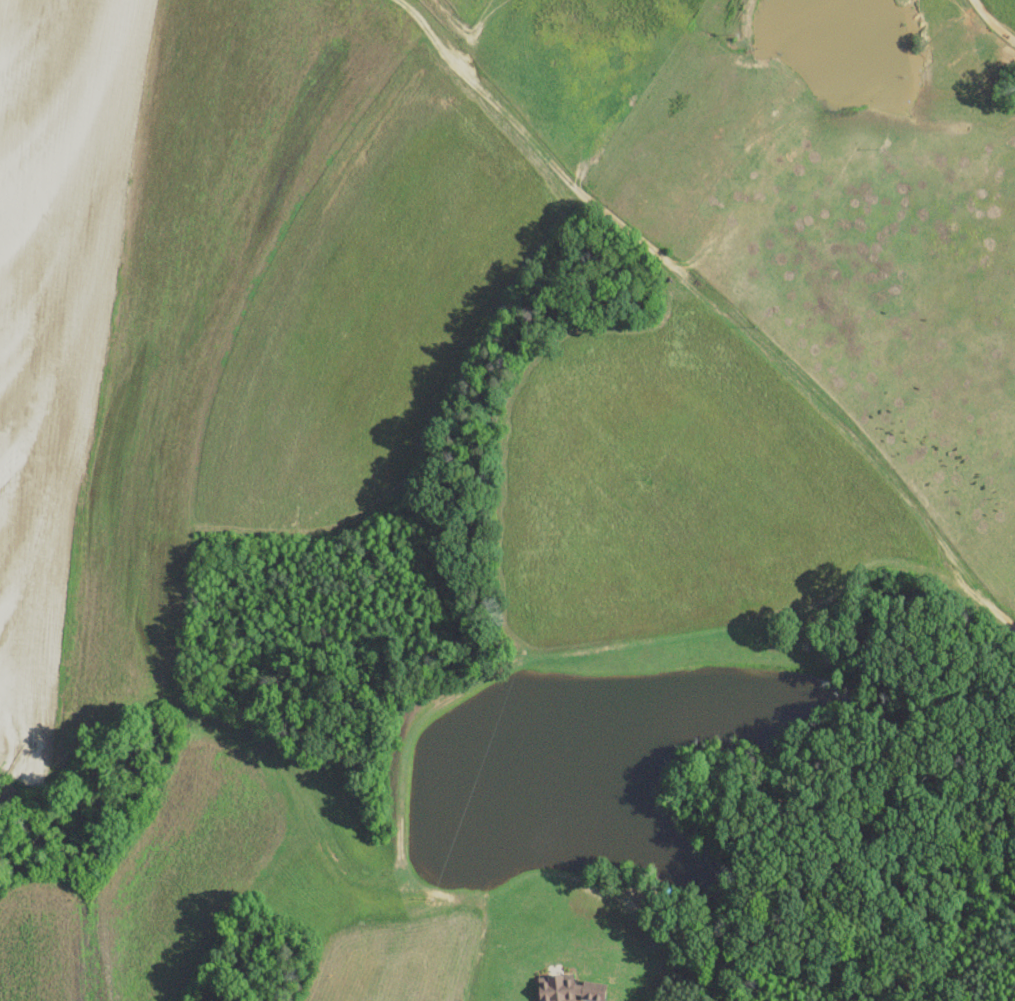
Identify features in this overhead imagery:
road: (993, 21)
building: (567, 988)

